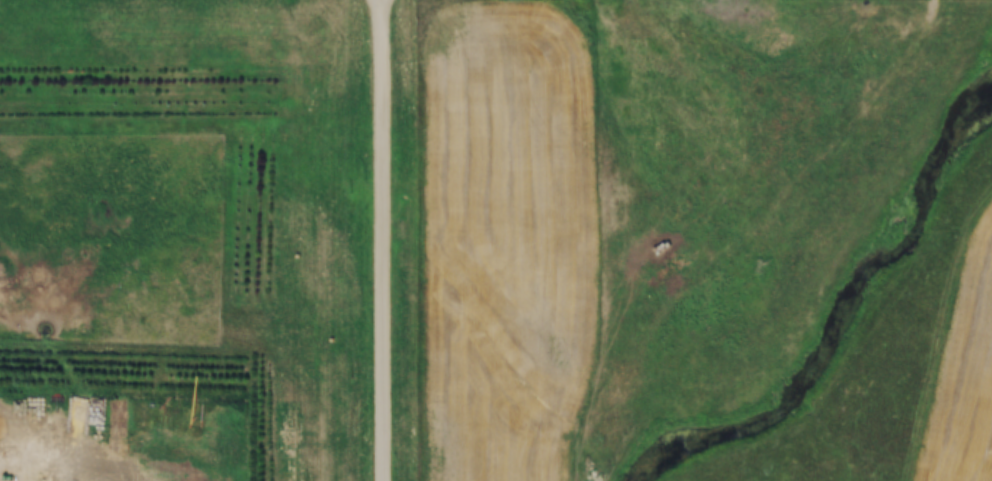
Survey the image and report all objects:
road: (384, 240)

